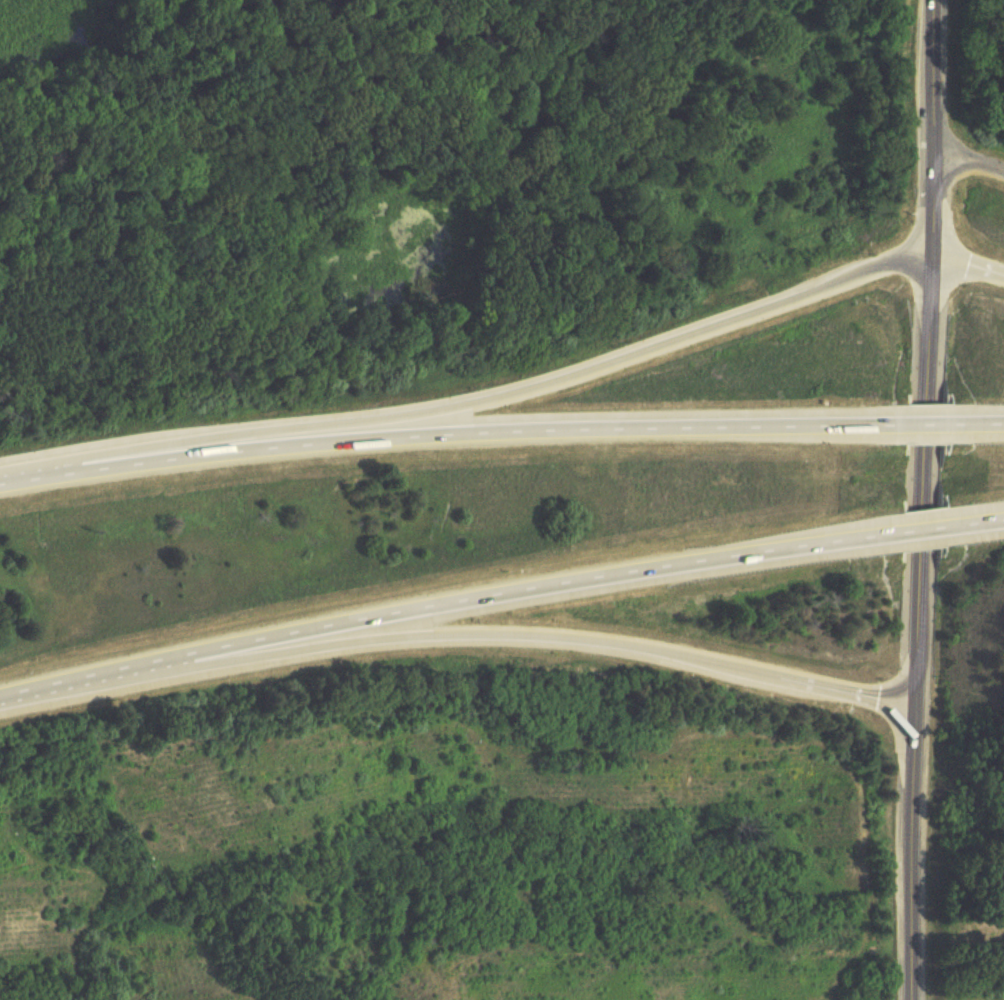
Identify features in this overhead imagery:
road: (933, 124)
road: (969, 163)
park: (429, 167)
road: (967, 259)
road: (584, 367)
road: (976, 421)
road: (925, 422)
road: (449, 426)
road: (975, 523)
road: (922, 530)
road: (447, 601)
road: (918, 623)
road: (486, 628)

